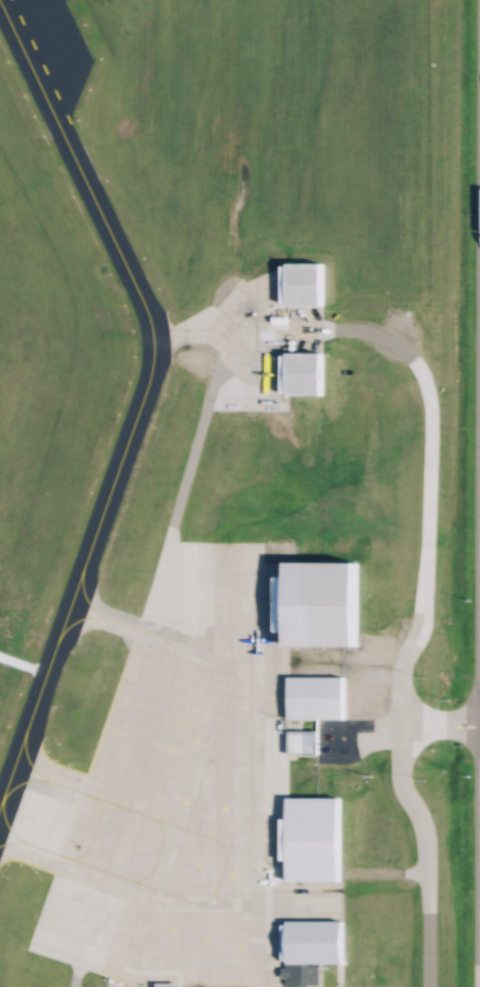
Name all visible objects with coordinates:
building: (302, 283)
airport taxiway: (157, 336)
airport apron: (235, 337)
building: (303, 372)
airport taxiway: (139, 395)
road: (186, 465)
road: (424, 475)
airport: (239, 493)
building: (319, 603)
airport taxiway: (108, 618)
airport taxiway: (121, 623)
building: (312, 697)
road: (402, 724)
building: (301, 741)
airport taxiway: (49, 779)
airport apron: (183, 784)
airport taxiway: (65, 786)
airport taxiway: (16, 833)
building: (310, 838)
airport taxiway: (44, 850)
road: (423, 853)
building: (313, 940)
building: (302, 974)
road: (71, 975)
building: (168, 984)

